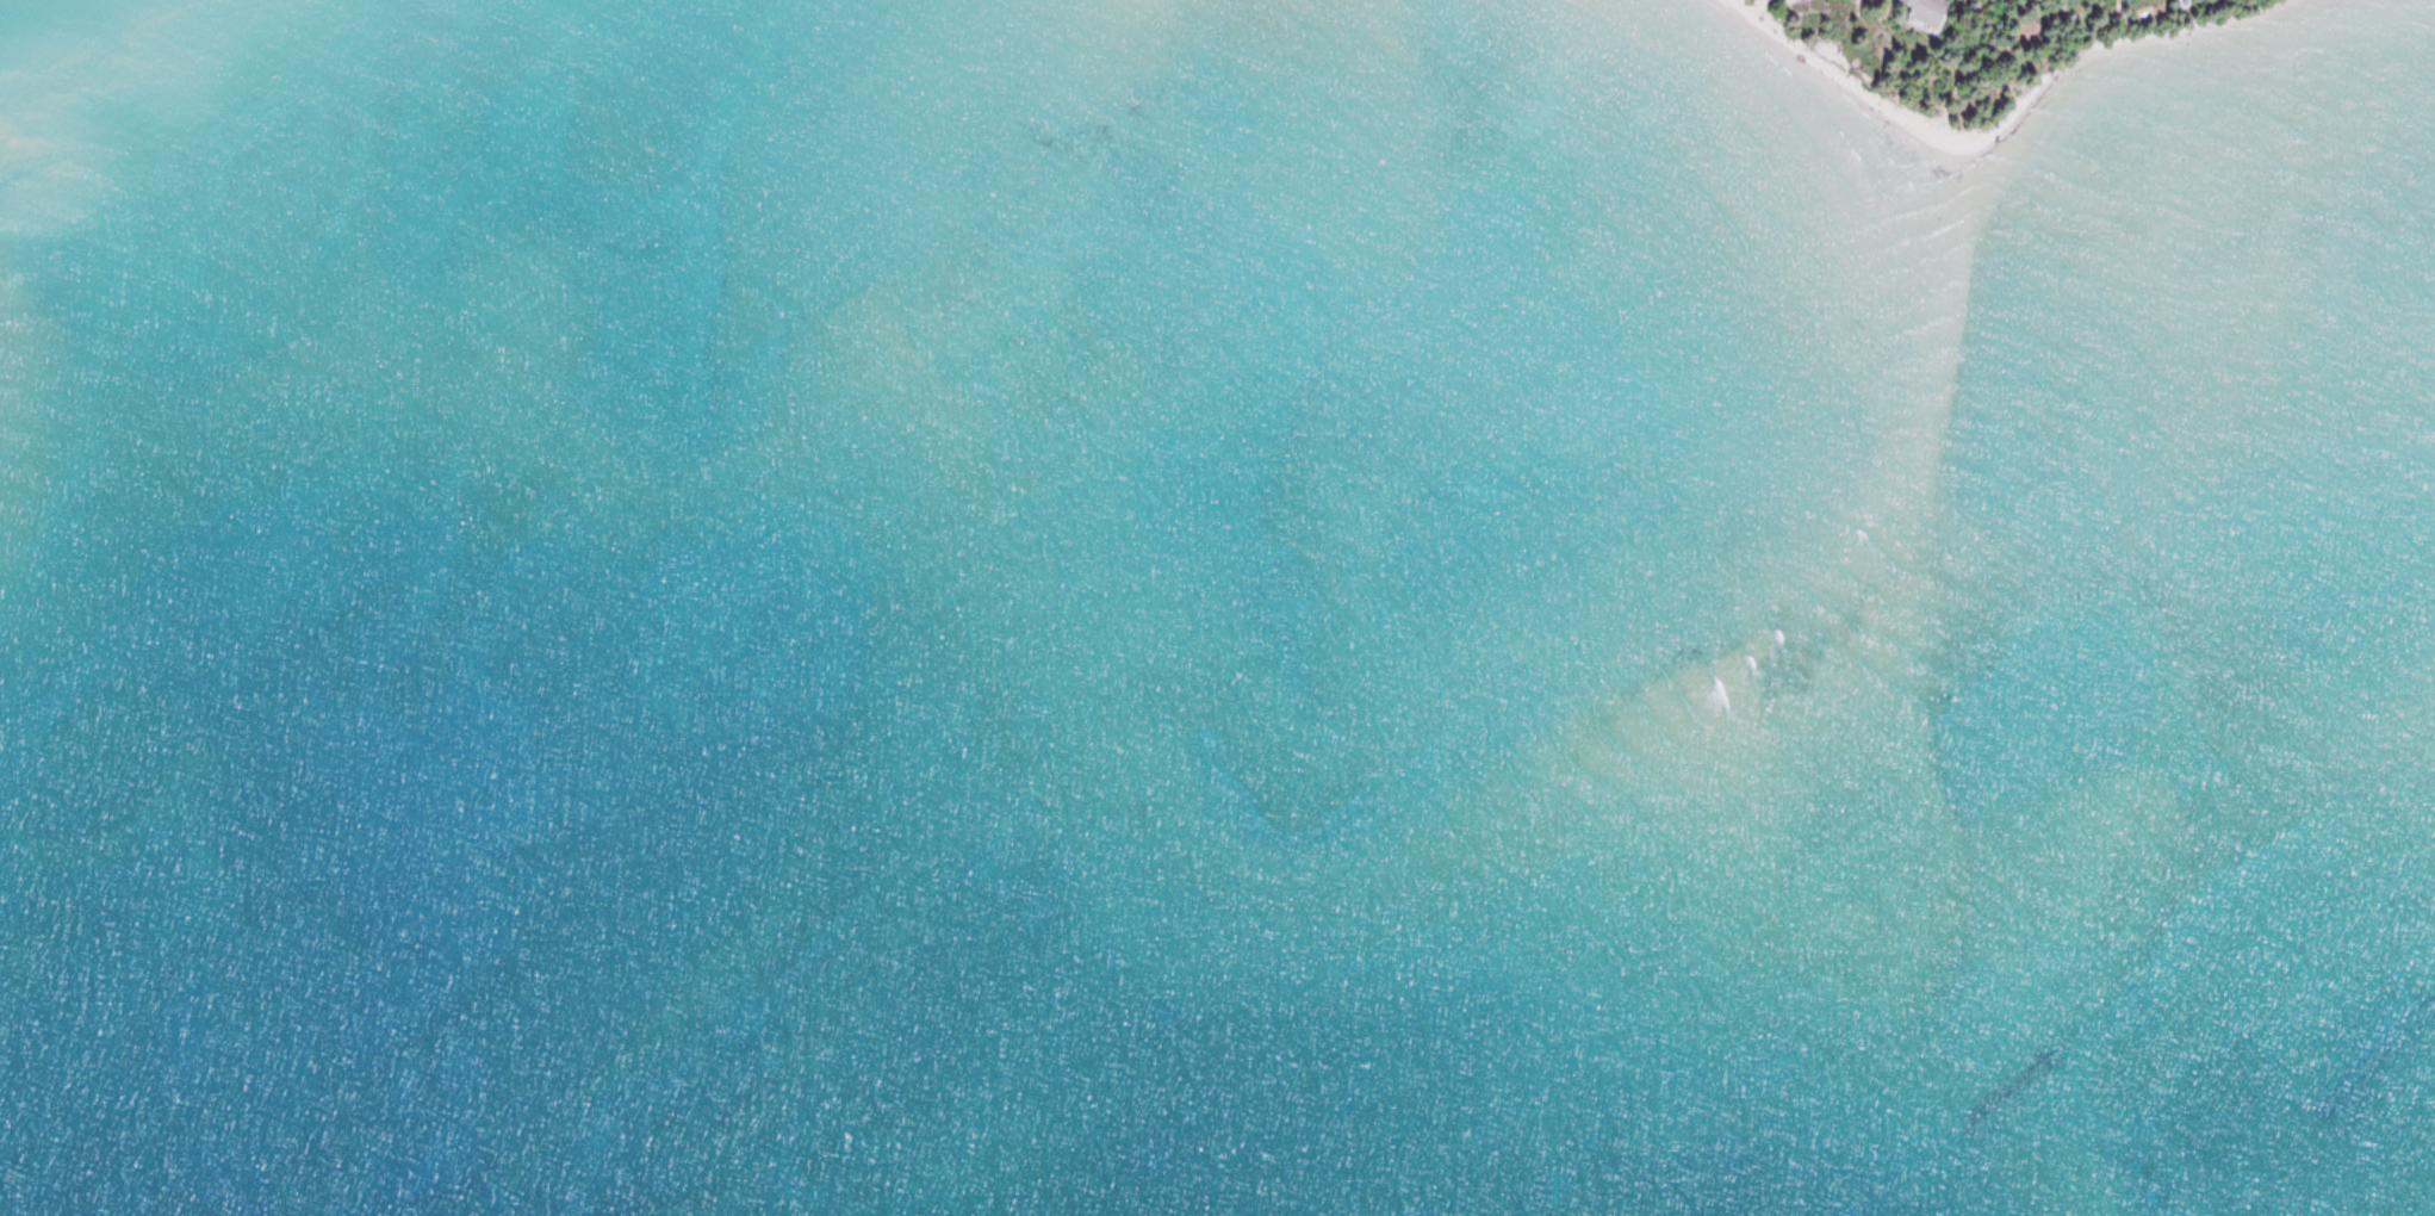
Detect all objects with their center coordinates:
building: (1930, 11)

